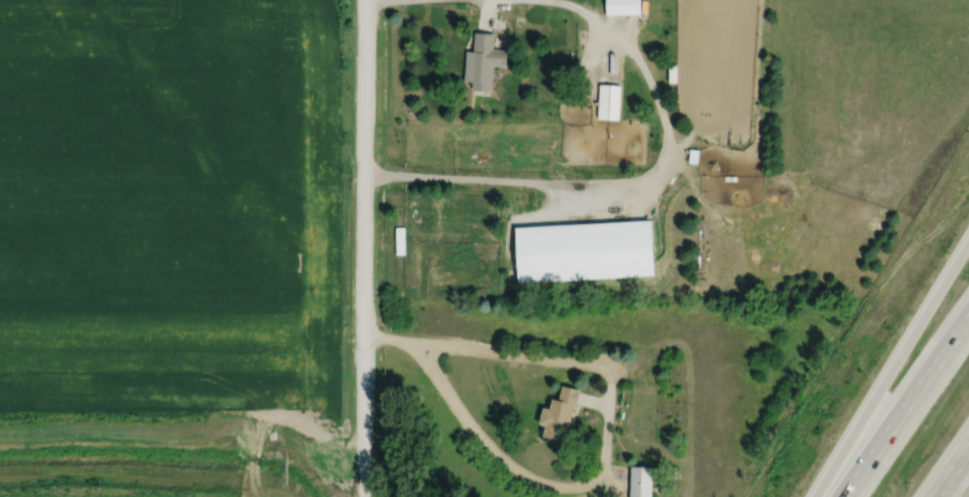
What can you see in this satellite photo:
road: (367, 0)
building: (620, 7)
building: (478, 61)
building: (605, 101)
road: (613, 180)
building: (396, 240)
road: (354, 248)
building: (579, 251)
road: (380, 344)
road: (891, 366)
road: (904, 405)
building: (554, 414)
road: (950, 469)
building: (636, 481)
road: (590, 492)

